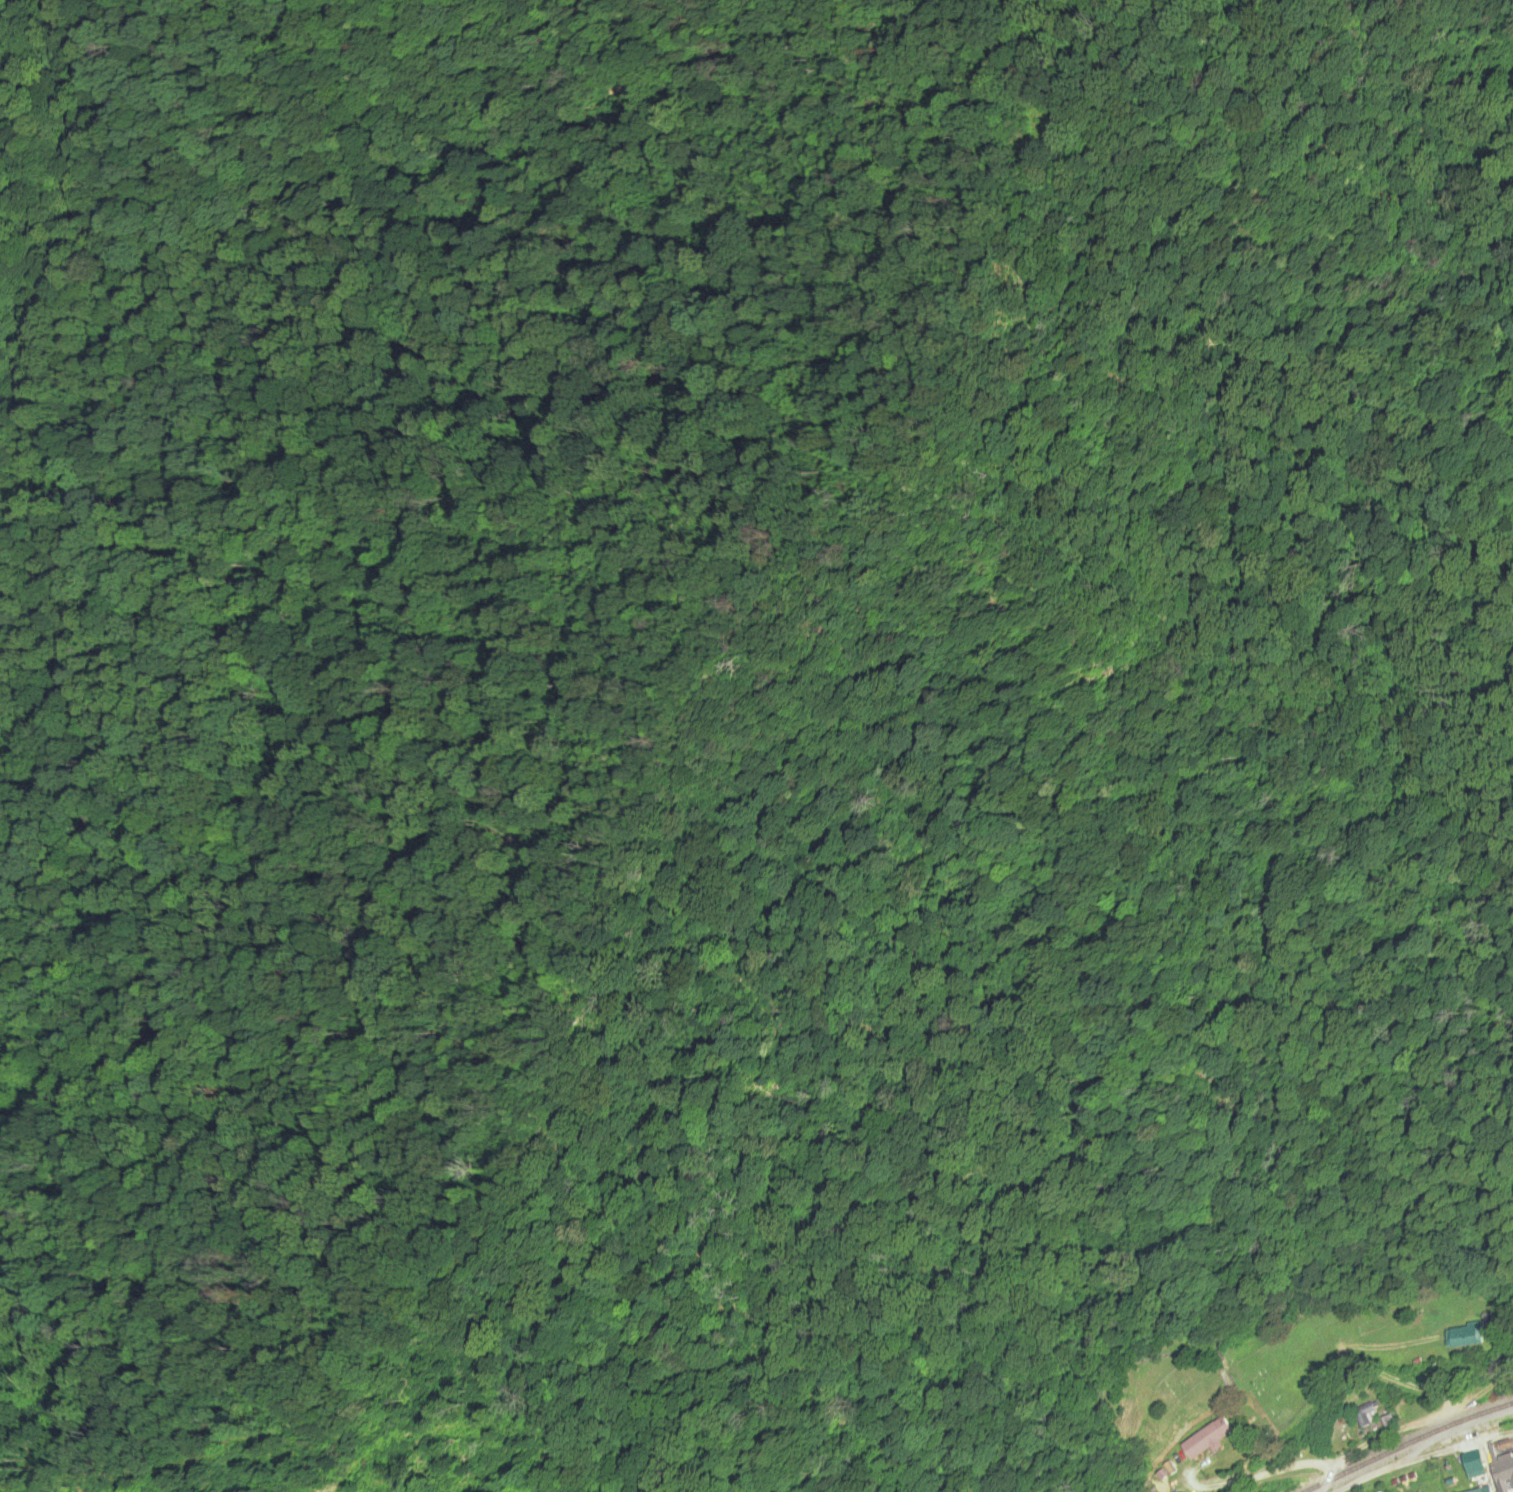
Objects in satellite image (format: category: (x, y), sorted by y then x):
building: (1463, 1335)
building: (1364, 1415)
building: (1205, 1438)
road: (1389, 1439)
railway: (1407, 1443)
building: (1507, 1470)
building: (1482, 1490)

